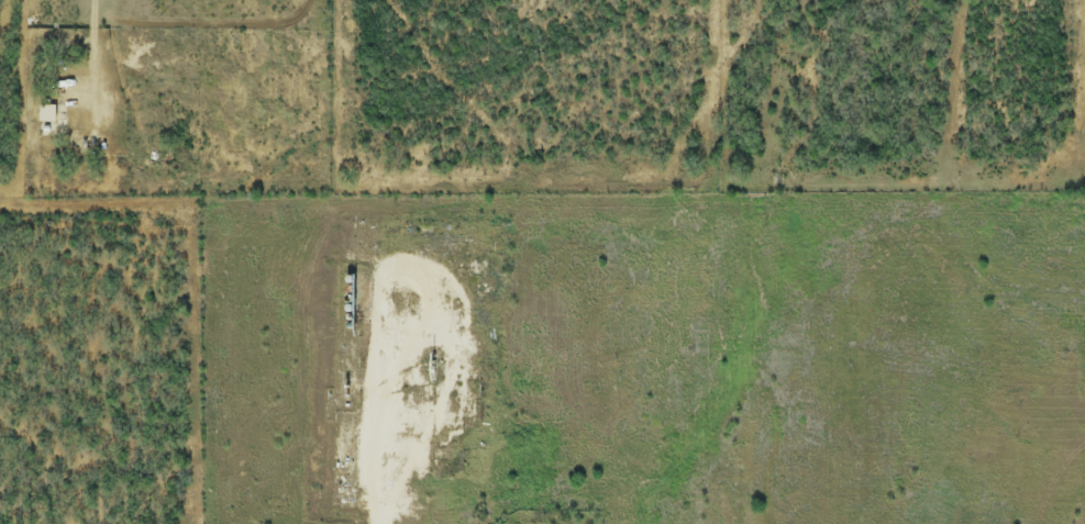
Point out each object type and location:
road: (93, 51)
building: (486, 424)

